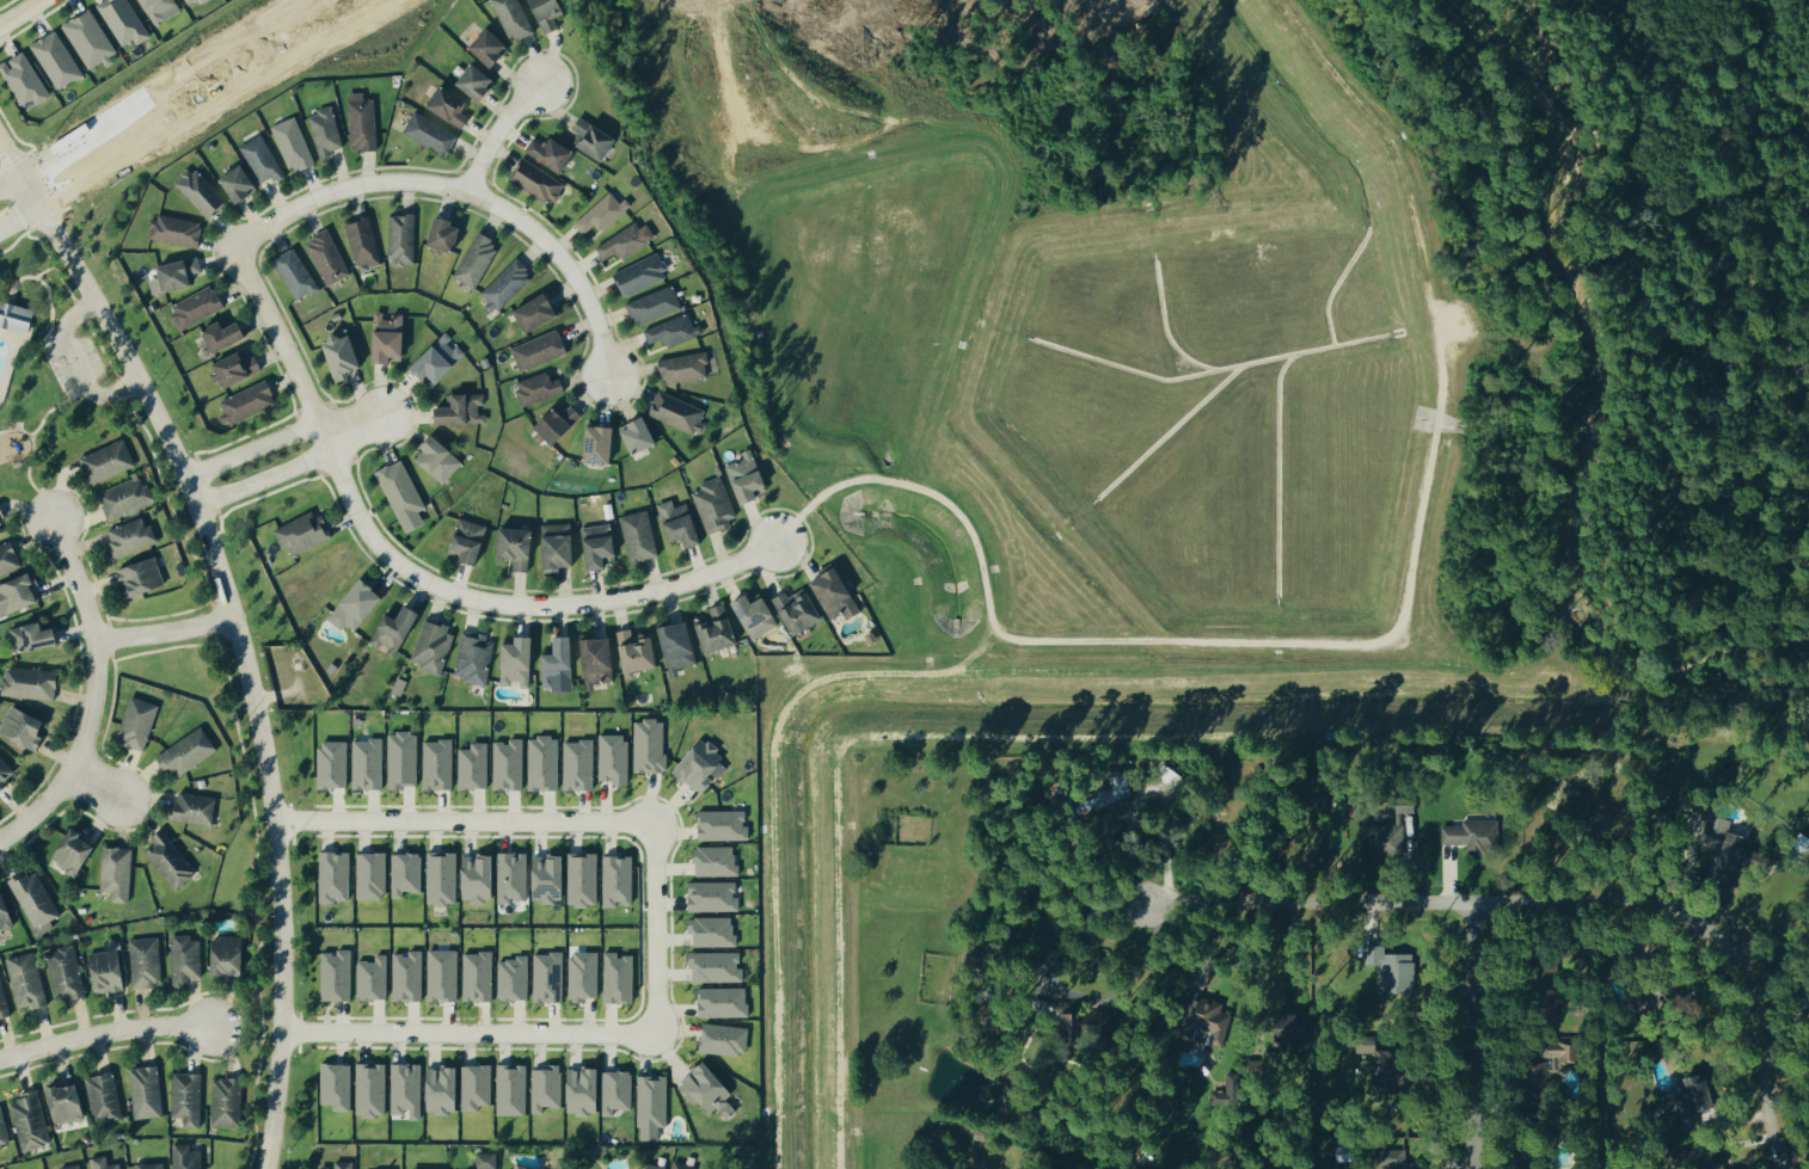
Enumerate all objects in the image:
building: (192, 1)
building: (162, 8)
road: (19, 12)
building: (551, 12)
building: (515, 18)
building: (125, 20)
building: (92, 39)
building: (493, 47)
building: (60, 60)
building: (26, 79)
building: (482, 81)
road: (165, 88)
road: (211, 104)
building: (453, 104)
building: (364, 122)
road: (495, 130)
building: (327, 131)
building: (433, 133)
building: (596, 137)
building: (295, 143)
building: (556, 153)
building: (263, 159)
road: (7, 165)
building: (539, 180)
road: (7, 181)
building: (243, 183)
road: (464, 190)
building: (203, 192)
building: (603, 213)
road: (17, 221)
building: (178, 229)
building: (448, 234)
building: (404, 239)
building: (627, 241)
building: (364, 242)
building: (330, 258)
building: (477, 259)
building: (298, 273)
building: (642, 275)
building: (177, 276)
building: (508, 284)
park: (1712, 293)
building: (656, 304)
building: (198, 306)
building: (541, 313)
building: (14, 318)
building: (675, 330)
building: (226, 336)
building: (392, 337)
building: (541, 350)
building: (348, 356)
building: (441, 361)
road: (80, 364)
building: (685, 367)
building: (239, 369)
park: (51, 373)
building: (540, 387)
building: (250, 402)
building: (462, 410)
building: (680, 412)
building: (563, 424)
road: (350, 427)
river: (1581, 432)
building: (644, 435)
road: (249, 448)
building: (436, 456)
building: (104, 462)
building: (750, 476)
road: (263, 480)
building: (400, 490)
building: (127, 498)
building: (717, 504)
building: (2, 517)
building: (683, 523)
building: (305, 533)
building: (642, 536)
building: (131, 537)
building: (466, 540)
building: (514, 544)
building: (554, 546)
building: (602, 546)
building: (10, 559)
road: (410, 576)
building: (142, 578)
building: (20, 595)
building: (840, 595)
building: (355, 602)
building: (802, 611)
building: (759, 616)
road: (162, 629)
building: (391, 629)
building: (720, 629)
building: (36, 636)
building: (682, 645)
building: (430, 646)
road: (241, 648)
building: (640, 652)
building: (472, 656)
building: (514, 662)
building: (601, 662)
building: (562, 666)
building: (32, 683)
building: (397, 684)
road: (94, 694)
building: (140, 722)
building: (25, 727)
building: (651, 745)
building: (189, 751)
building: (617, 758)
building: (405, 759)
building: (546, 763)
building: (703, 763)
building: (336, 764)
building: (370, 764)
building: (440, 764)
building: (510, 764)
building: (581, 764)
building: (476, 767)
building: (5, 774)
road: (98, 786)
building: (1103, 793)
building: (196, 807)
road: (1163, 810)
building: (725, 825)
building: (1387, 830)
building: (1470, 833)
building: (1722, 847)
building: (76, 853)
building: (173, 860)
building: (718, 861)
building: (118, 873)
building: (409, 873)
building: (374, 875)
building: (337, 876)
building: (515, 876)
building: (444, 878)
building: (482, 879)
building: (552, 879)
building: (585, 879)
building: (620, 880)
building: (715, 897)
building: (37, 900)
road: (1133, 900)
road: (1562, 907)
building: (6, 912)
road: (654, 927)
building: (715, 931)
building: (231, 955)
building: (186, 958)
building: (147, 961)
building: (1384, 961)
building: (718, 967)
building: (109, 971)
building: (67, 972)
building: (1543, 972)
building: (446, 974)
building: (339, 976)
building: (411, 976)
building: (587, 976)
building: (480, 977)
building: (551, 977)
building: (376, 978)
building: (516, 978)
building: (621, 978)
building: (27, 980)
road: (1067, 995)
building: (4, 997)
building: (725, 1002)
building: (1036, 1007)
building: (1197, 1019)
building: (1063, 1026)
building: (1286, 1026)
road: (104, 1030)
building: (728, 1038)
road: (1480, 1040)
building: (1365, 1047)
building: (1554, 1051)
building: (1535, 1079)
building: (338, 1084)
building: (479, 1087)
building: (548, 1087)
building: (374, 1088)
building: (711, 1088)
building: (409, 1089)
building: (447, 1089)
building: (514, 1089)
building: (148, 1090)
building: (587, 1090)
building: (619, 1090)
building: (1687, 1095)
building: (105, 1096)
building: (189, 1096)
building: (228, 1101)
building: (69, 1102)
building: (654, 1103)
building: (32, 1120)
building: (4, 1127)
building: (188, 1157)
road: (1798, 1158)
building: (1388, 1159)
building: (487, 1161)
building: (104, 1163)
building: (344, 1164)
building: (152, 1165)
building: (682, 1165)
building: (74, 1167)
building: (522, 1167)
building: (656, 1167)

